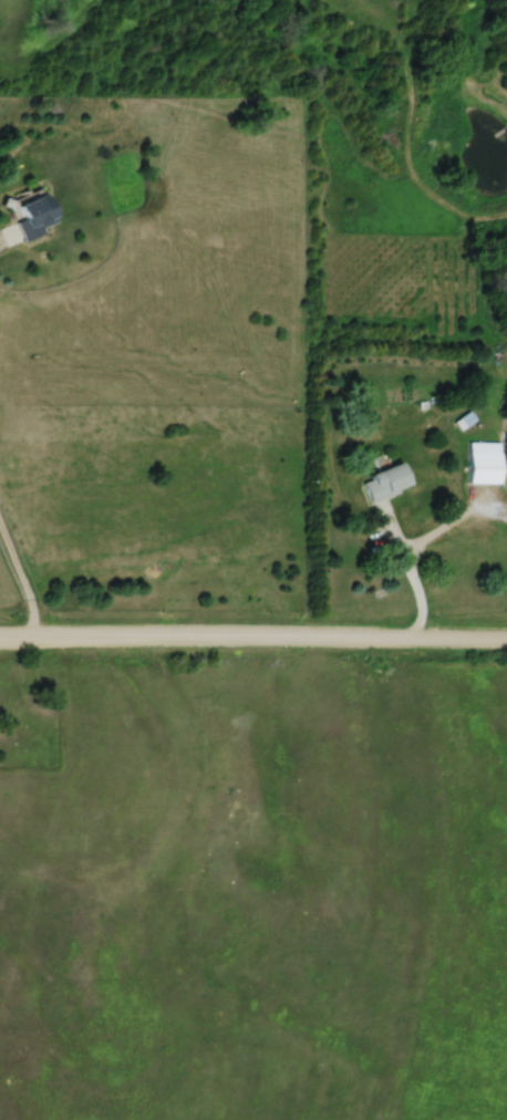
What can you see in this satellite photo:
building: (32, 218)
road: (4, 242)
building: (484, 468)
building: (386, 484)
road: (407, 577)
road: (23, 589)
road: (253, 646)
park: (28, 715)

